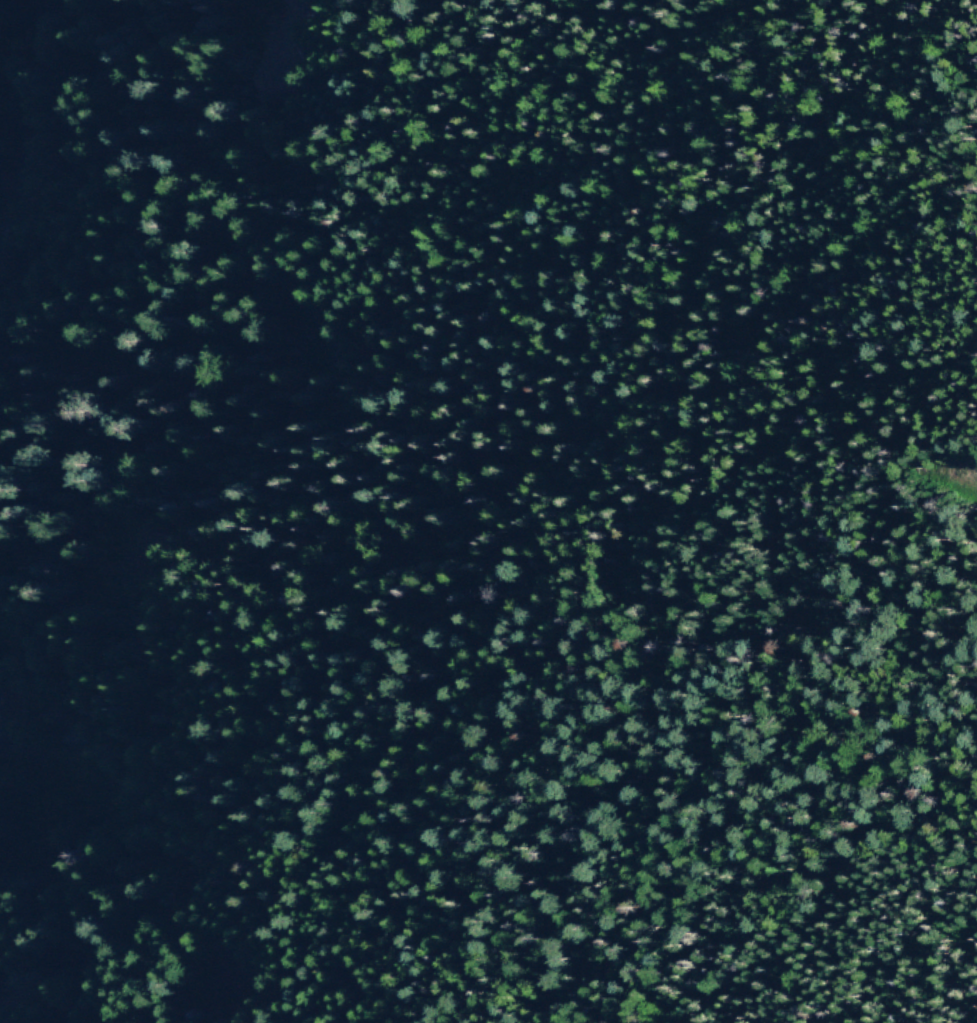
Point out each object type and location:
road: (568, 565)

